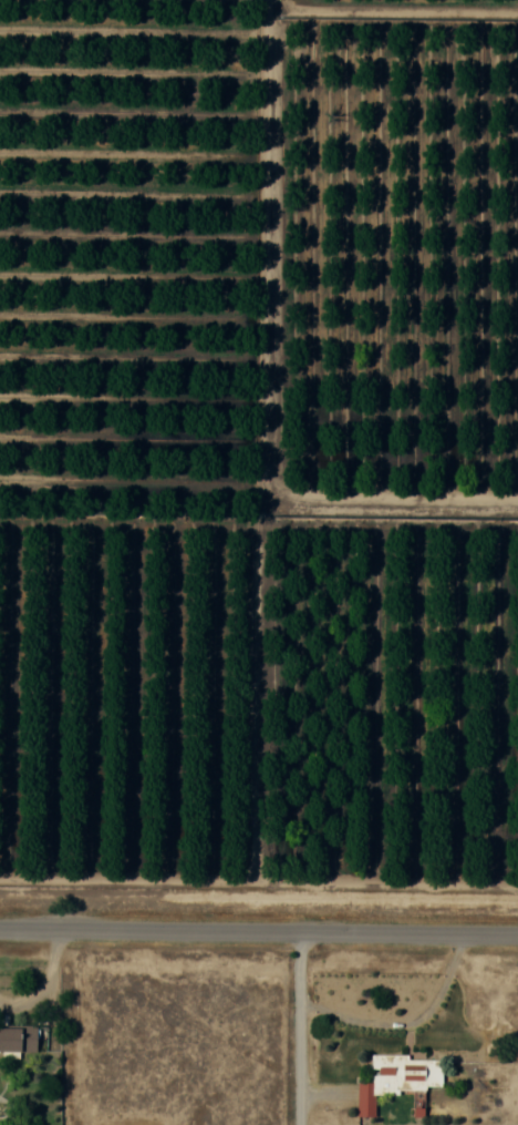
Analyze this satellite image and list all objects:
road: (259, 931)
road: (298, 1029)
building: (18, 1039)
building: (398, 1078)

